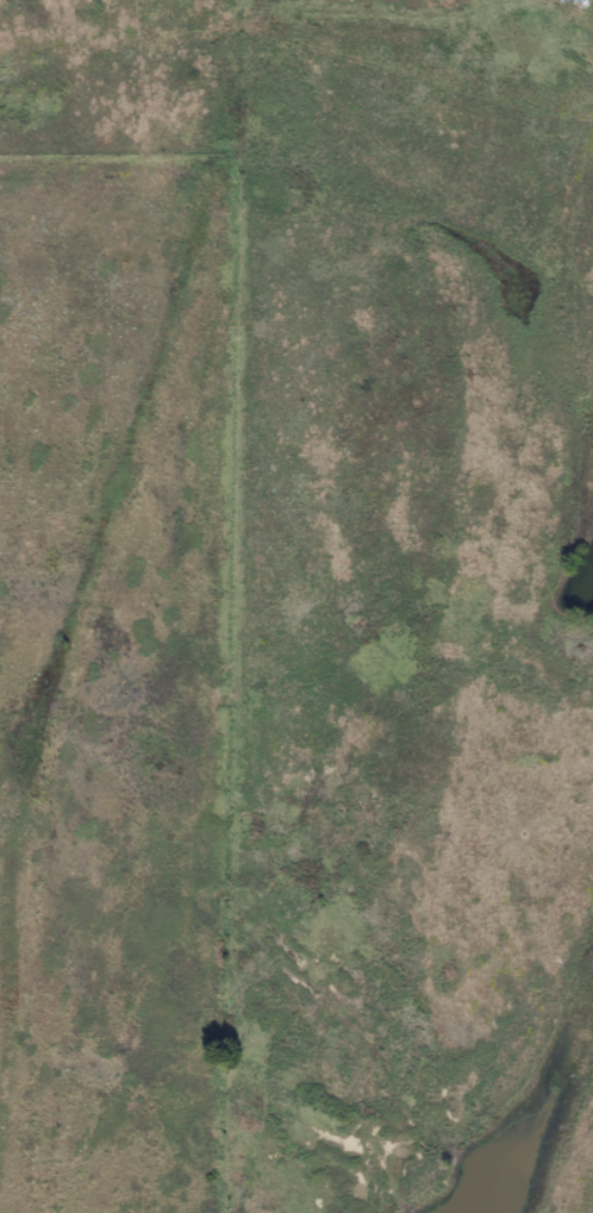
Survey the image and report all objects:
road: (592, 7)

